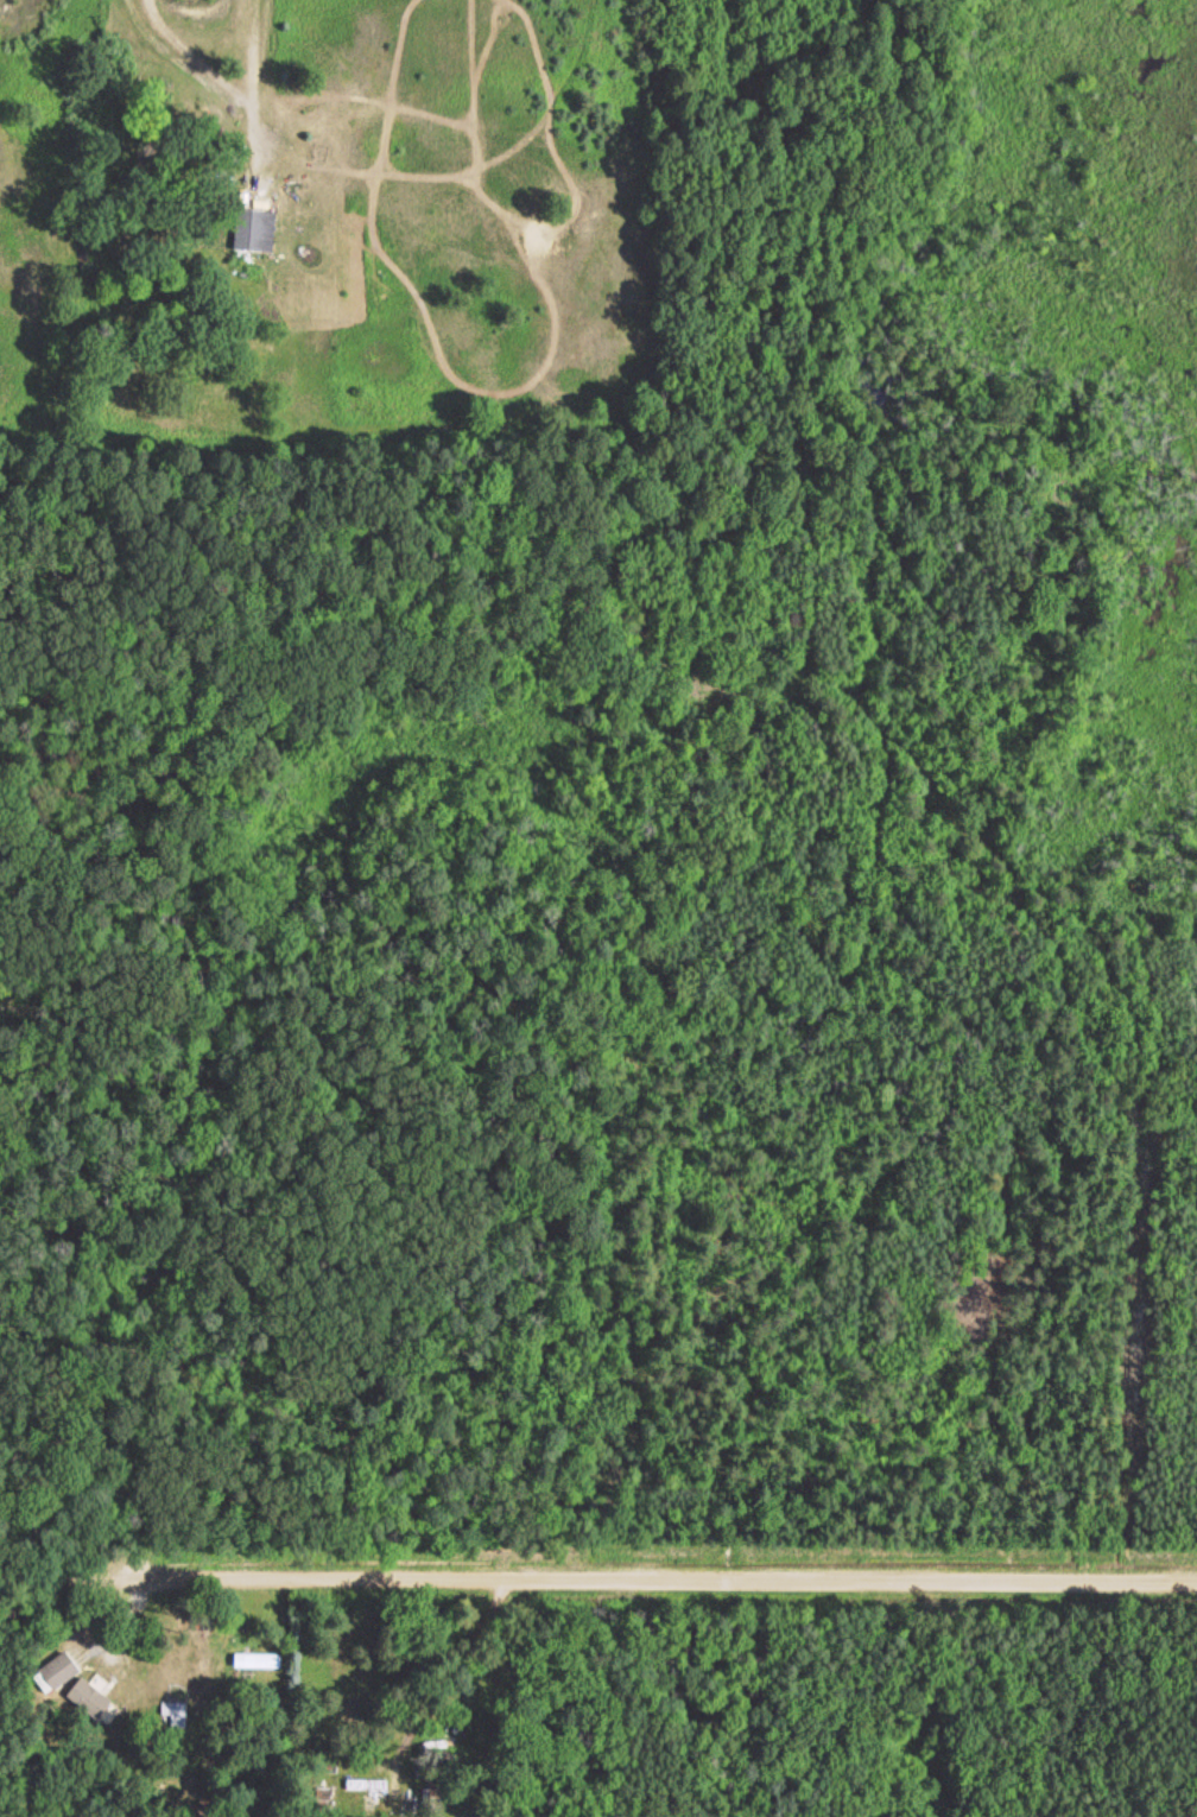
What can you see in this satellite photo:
building: (256, 232)
road: (597, 1541)
building: (264, 1661)
building: (62, 1669)
building: (91, 1697)
building: (367, 1784)
building: (432, 1796)

